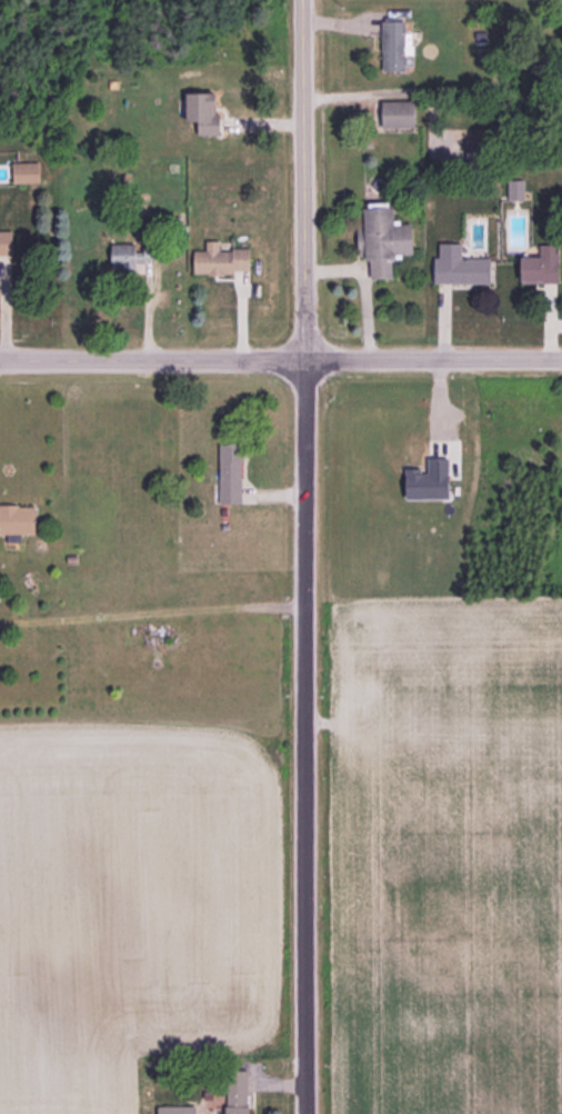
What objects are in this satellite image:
building: (392, 46)
building: (203, 111)
building: (397, 113)
building: (472, 148)
building: (24, 172)
building: (515, 189)
building: (382, 239)
building: (6, 242)
building: (123, 257)
building: (221, 259)
building: (459, 266)
building: (540, 266)
road: (281, 359)
building: (230, 473)
building: (426, 479)
building: (17, 519)
road: (304, 557)
building: (237, 1092)
building: (175, 1110)

